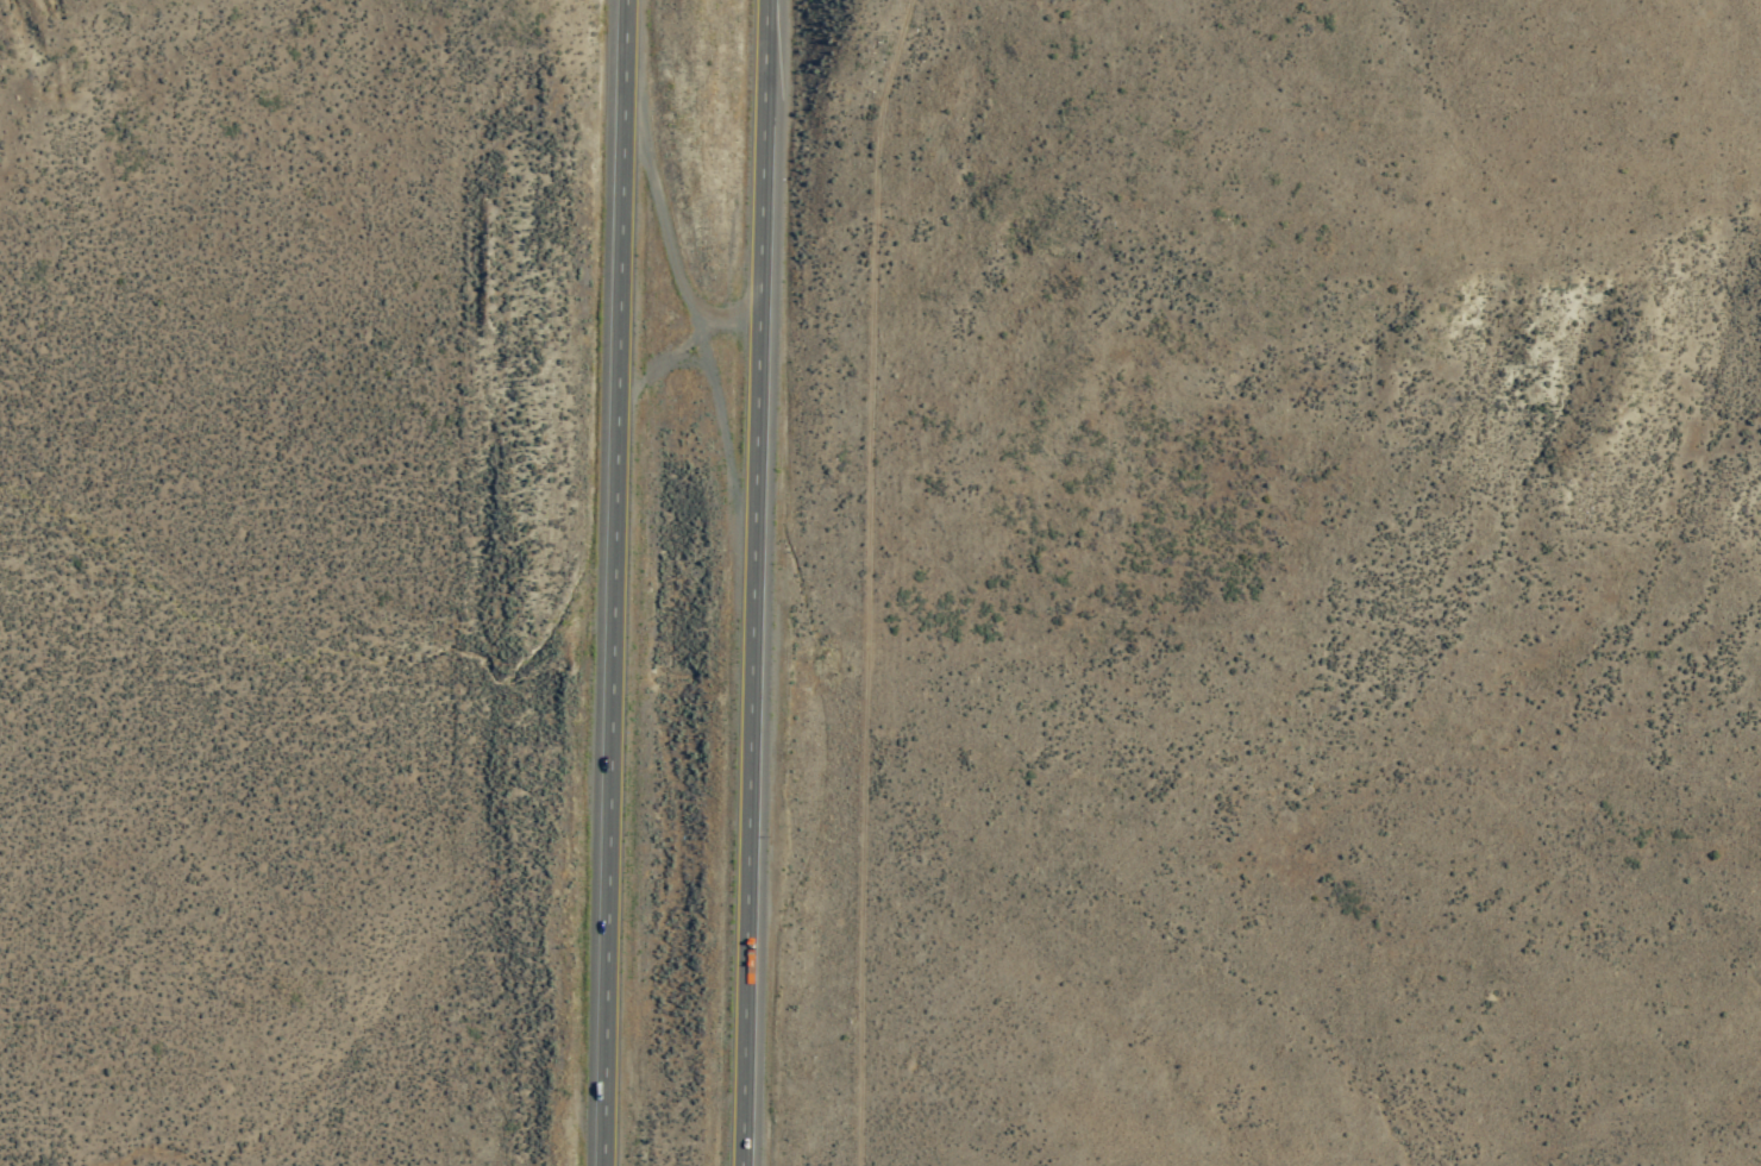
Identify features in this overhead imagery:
road: (861, 578)
crop: (698, 579)
road: (618, 583)
road: (754, 583)

